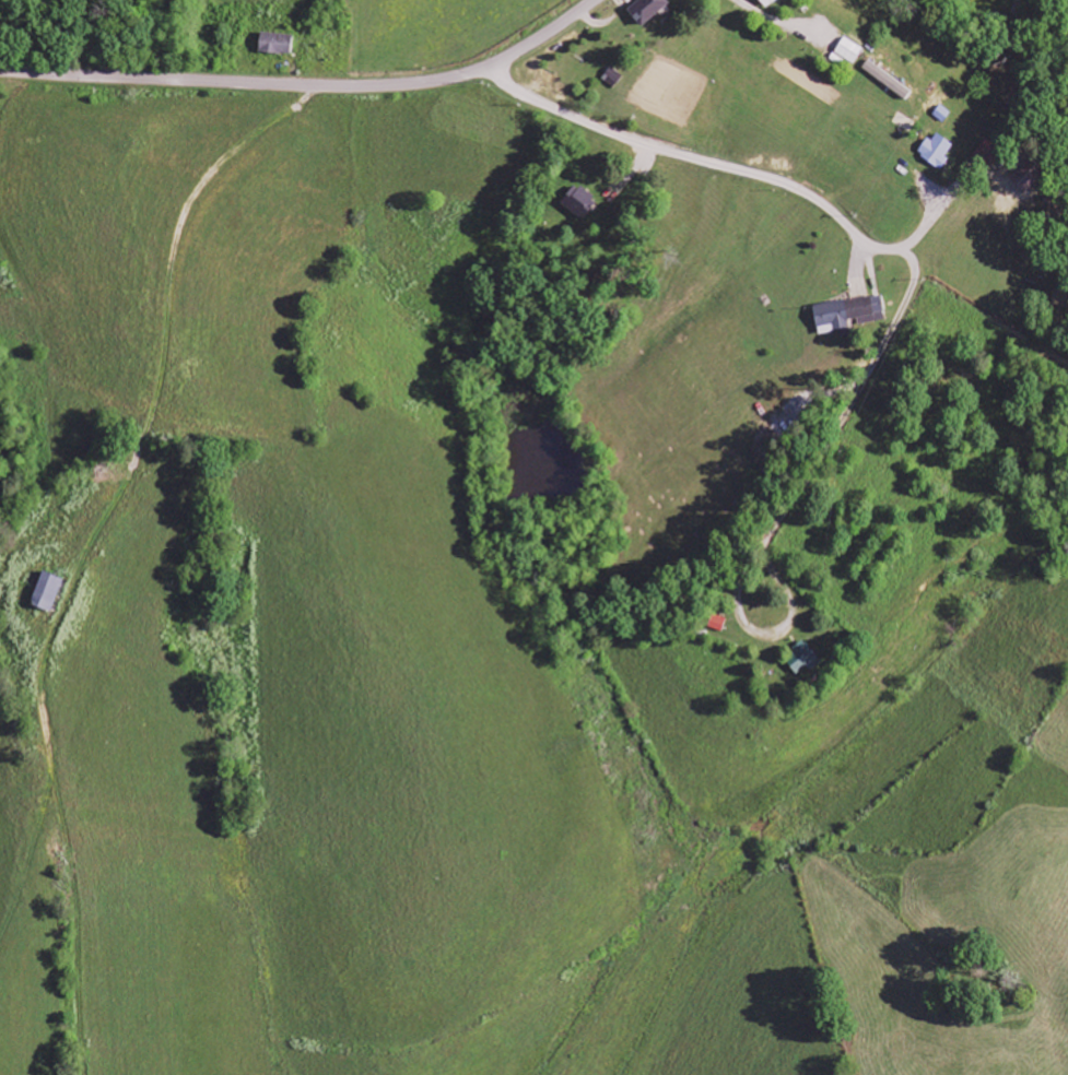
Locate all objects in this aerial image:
building: (767, 2)
building: (647, 10)
building: (275, 44)
building: (848, 50)
building: (887, 80)
road: (307, 85)
building: (937, 151)
building: (1029, 176)
building: (578, 201)
road: (849, 226)
building: (847, 314)
building: (49, 592)
road: (750, 625)
building: (805, 659)

